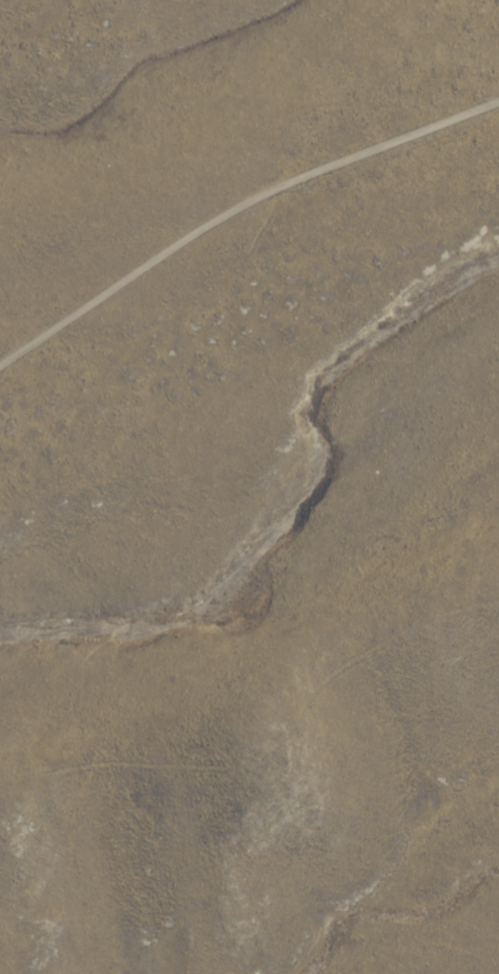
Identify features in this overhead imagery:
road: (249, 635)

